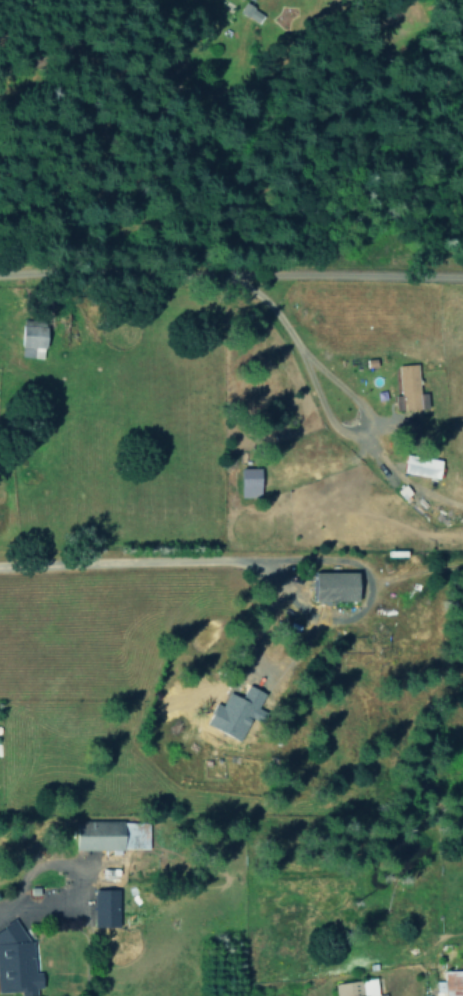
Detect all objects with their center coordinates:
building: (248, 12)
road: (109, 62)
road: (223, 275)
building: (28, 341)
building: (408, 388)
building: (417, 466)
building: (246, 482)
road: (124, 562)
building: (103, 835)
building: (108, 907)
building: (17, 962)
building: (450, 984)
building: (357, 988)

